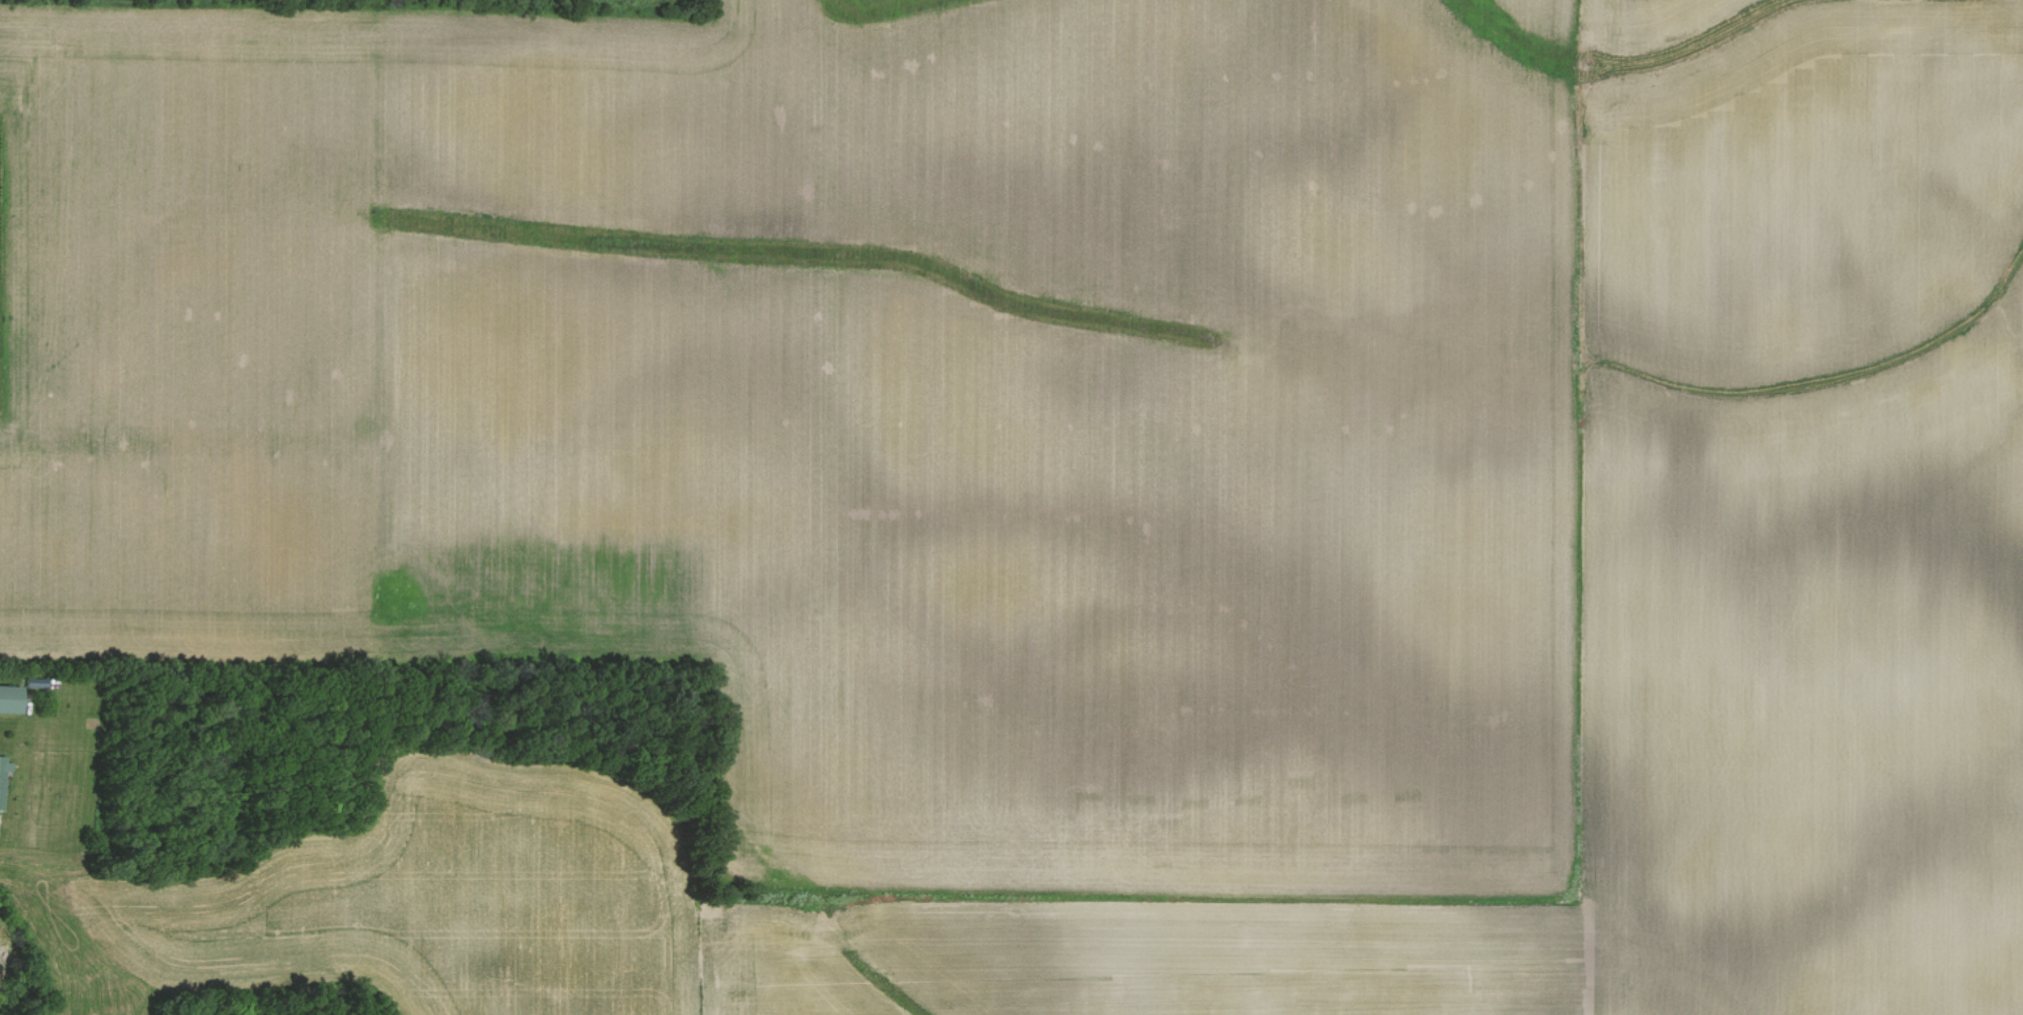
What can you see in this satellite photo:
building: (9, 697)

